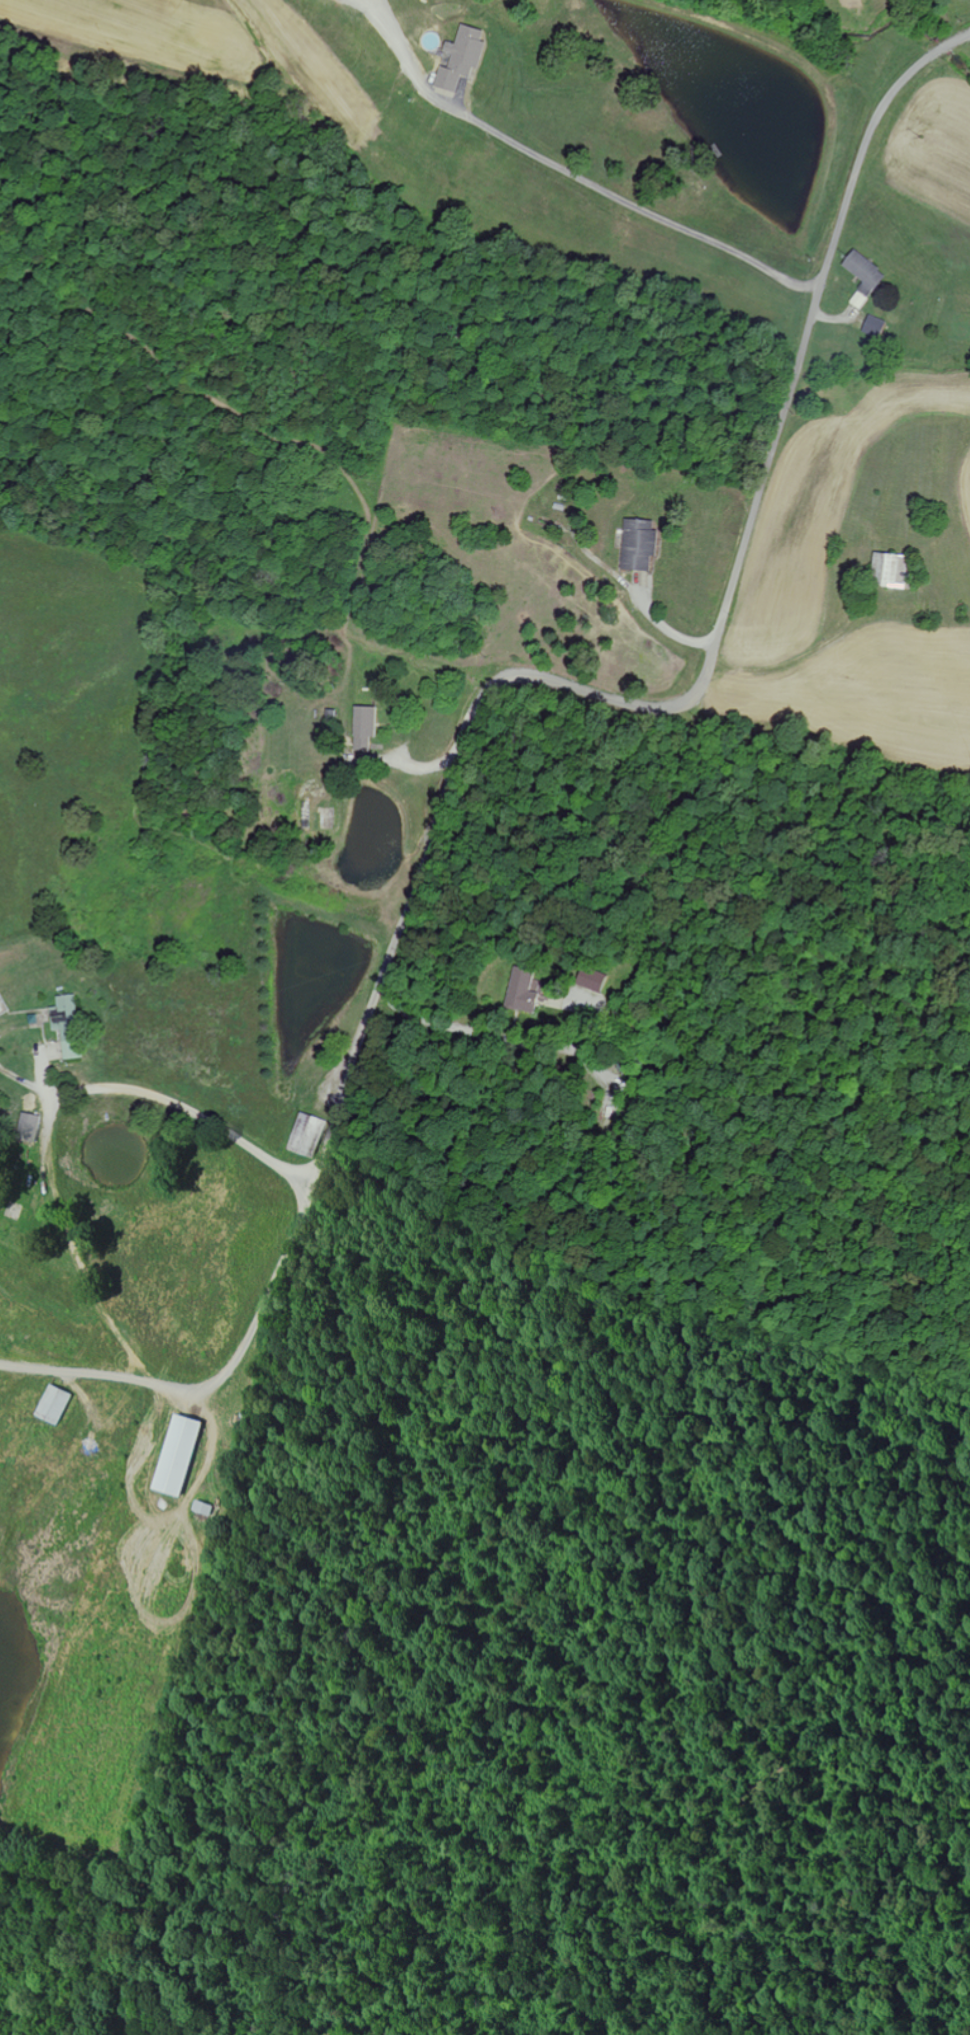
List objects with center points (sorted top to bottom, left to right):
building: (460, 57)
road: (542, 184)
building: (862, 276)
building: (872, 327)
building: (638, 545)
building: (892, 571)
road: (700, 689)
building: (364, 722)
building: (66, 1025)
road: (441, 1030)
building: (28, 1127)
building: (305, 1134)
building: (51, 1404)
building: (174, 1455)

